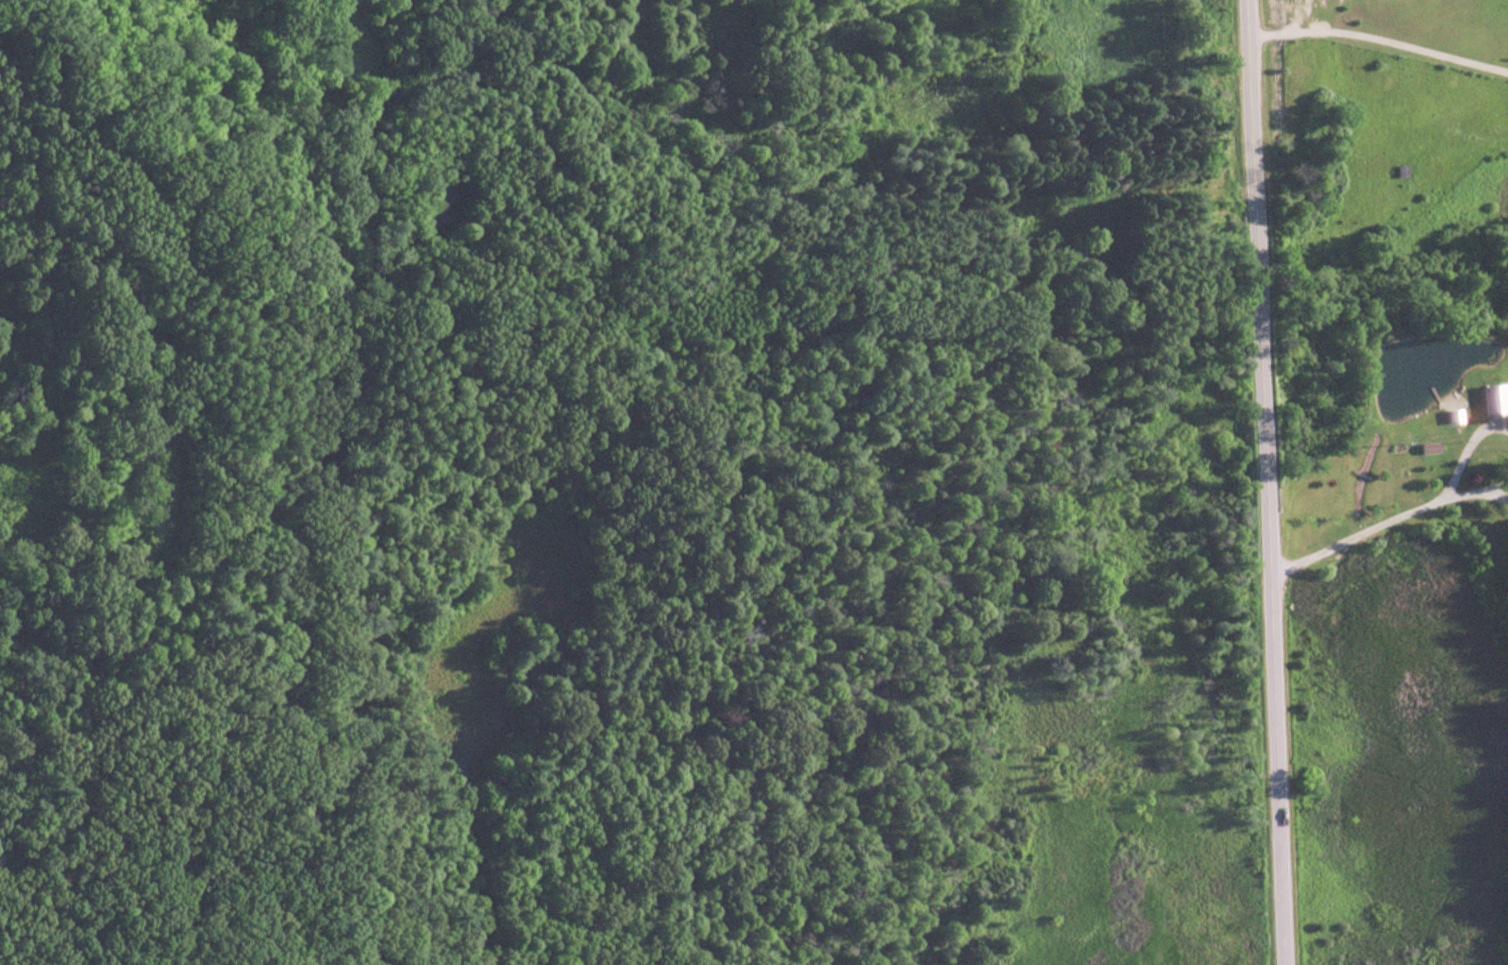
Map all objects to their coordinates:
road: (1381, 35)
road: (269, 181)
building: (1489, 400)
road: (1269, 482)
park: (622, 484)
road: (1389, 517)

